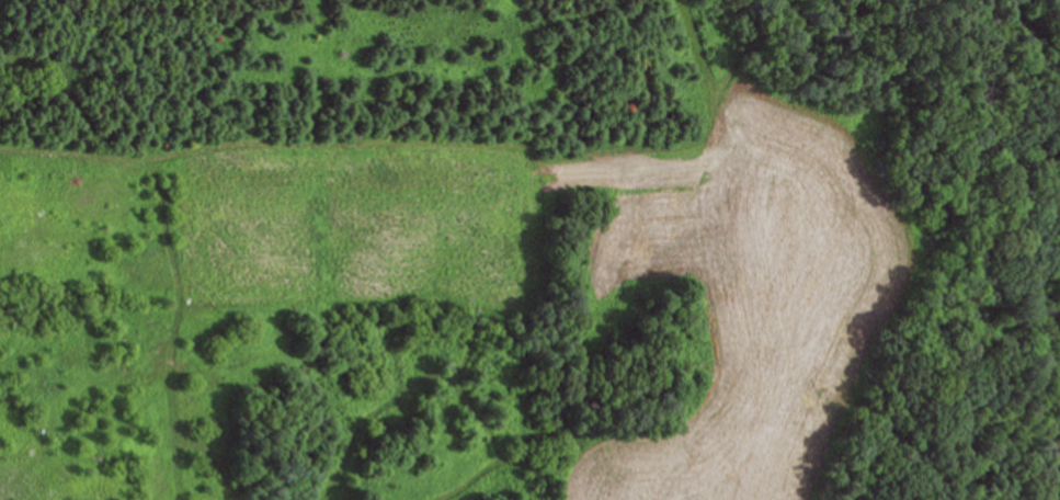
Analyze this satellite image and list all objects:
crop: (364, 225)
crop: (751, 291)

